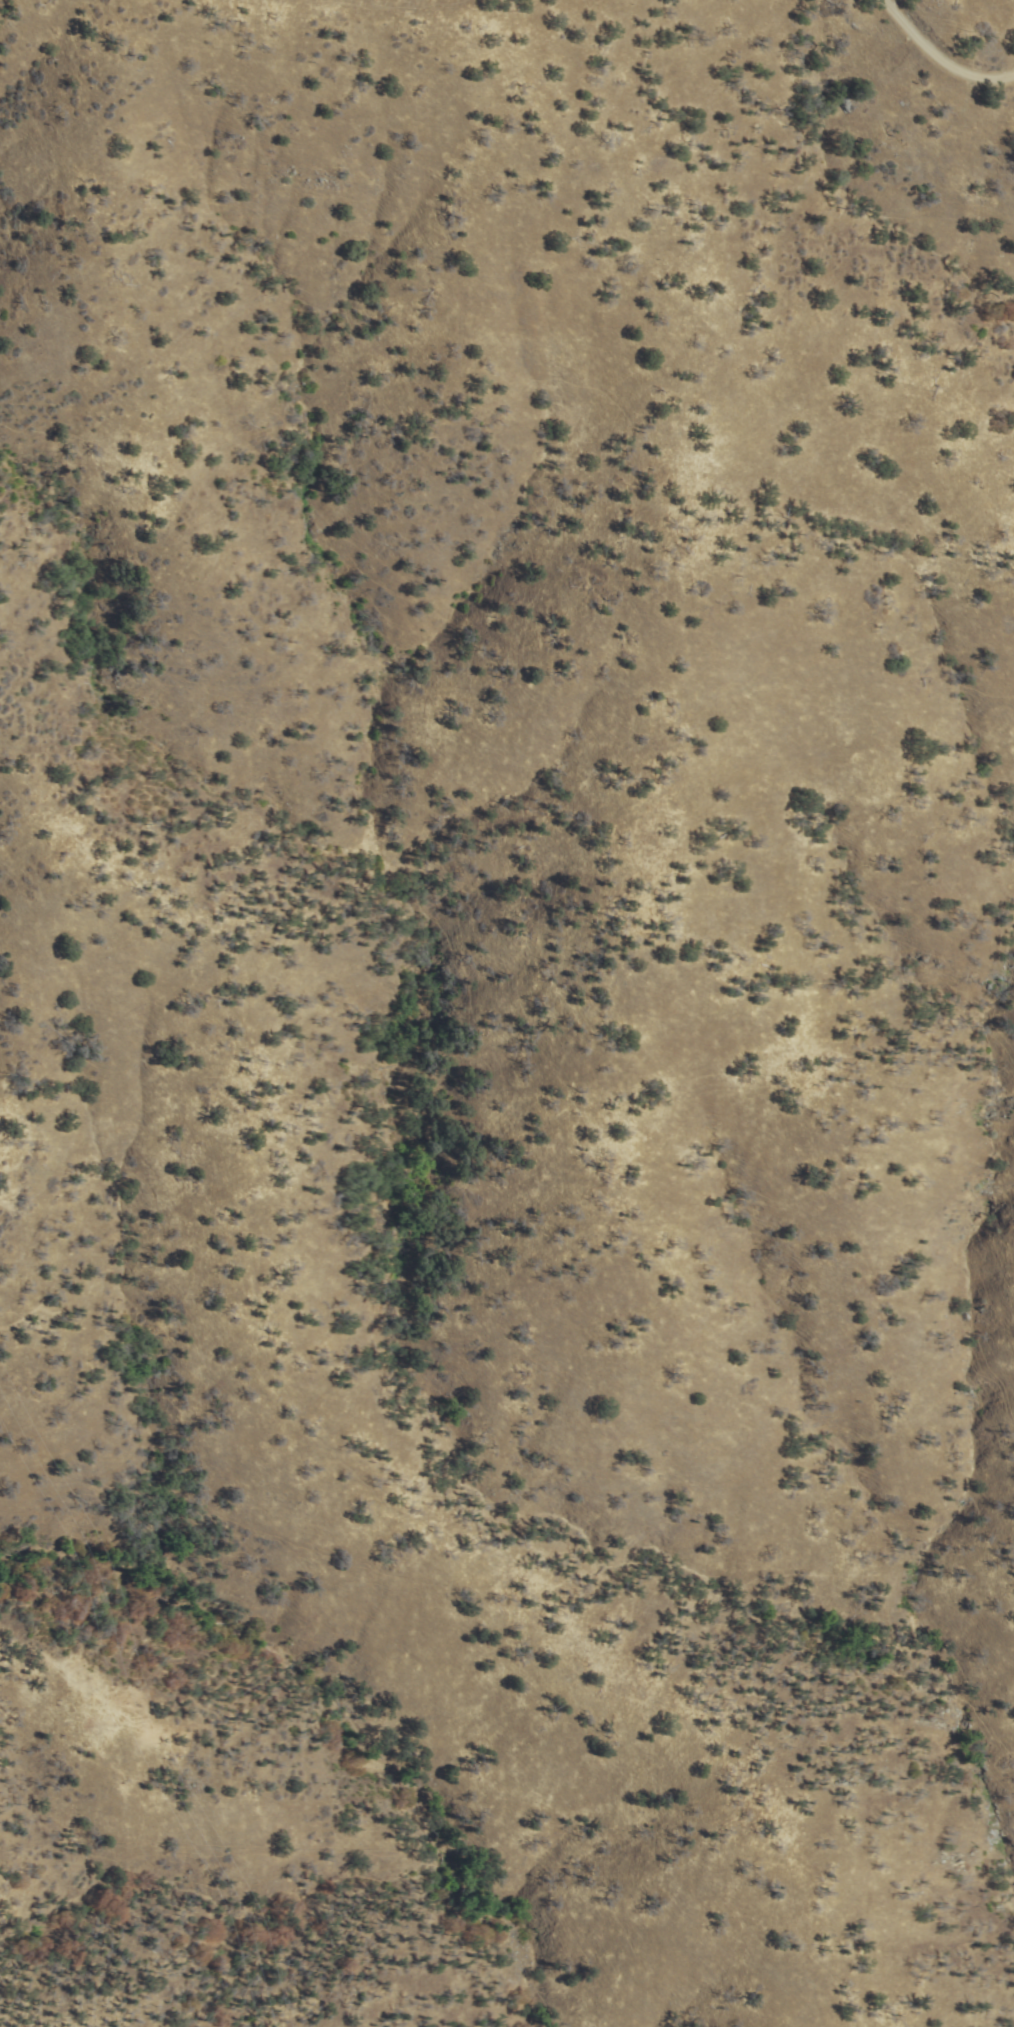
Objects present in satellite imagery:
road: (940, 57)

